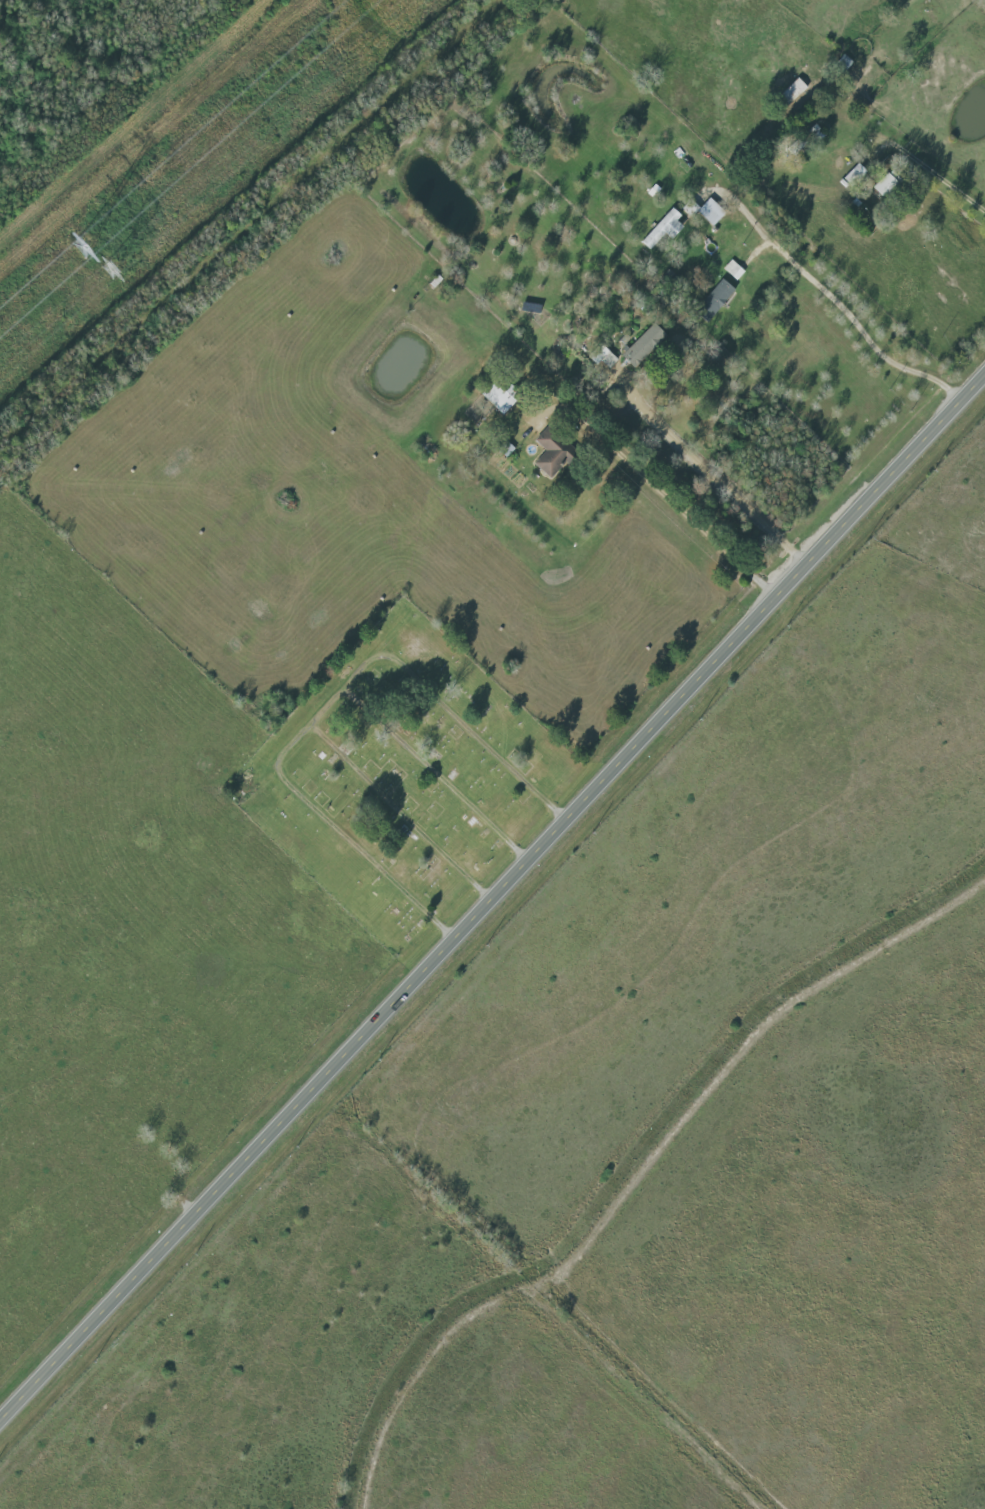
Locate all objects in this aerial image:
road: (946, 186)
building: (703, 211)
railway: (241, 217)
building: (661, 230)
power tower: (80, 247)
power tower: (108, 269)
building: (713, 301)
road: (853, 324)
building: (640, 346)
building: (602, 359)
building: (495, 399)
building: (549, 453)
road: (706, 474)
road: (655, 489)
road: (322, 696)
park: (406, 778)
road: (487, 892)

